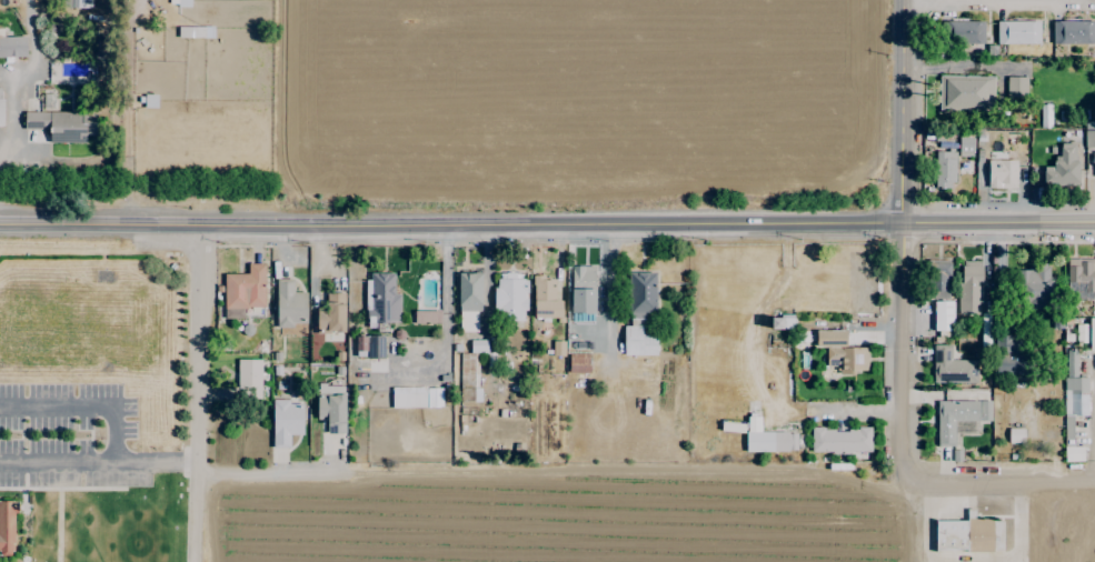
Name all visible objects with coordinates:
road: (987, 1)
building: (76, 3)
building: (964, 32)
building: (1017, 32)
building: (1073, 32)
building: (12, 47)
building: (1015, 87)
building: (965, 92)
building: (1, 107)
road: (12, 119)
building: (62, 124)
building: (965, 145)
building: (1062, 167)
building: (944, 169)
building: (1002, 173)
road: (998, 221)
road: (450, 227)
road: (902, 242)
building: (1081, 275)
building: (938, 280)
building: (969, 287)
building: (1035, 288)
building: (581, 289)
building: (243, 291)
building: (509, 297)
building: (381, 299)
building: (545, 299)
building: (468, 302)
building: (289, 305)
building: (331, 314)
building: (639, 315)
building: (942, 315)
building: (426, 317)
building: (780, 322)
building: (1092, 334)
road: (447, 340)
building: (558, 349)
building: (840, 352)
building: (1006, 357)
building: (578, 363)
building: (950, 367)
building: (468, 374)
building: (249, 378)
building: (1073, 392)
road: (196, 395)
building: (416, 398)
road: (82, 405)
building: (331, 408)
building: (957, 417)
building: (285, 422)
building: (1015, 435)
building: (767, 439)
building: (839, 441)
building: (1073, 454)
road: (189, 462)
road: (91, 463)
road: (263, 471)
road: (1001, 484)
crop: (633, 519)
road: (906, 523)
road: (1064, 523)
building: (7, 528)

